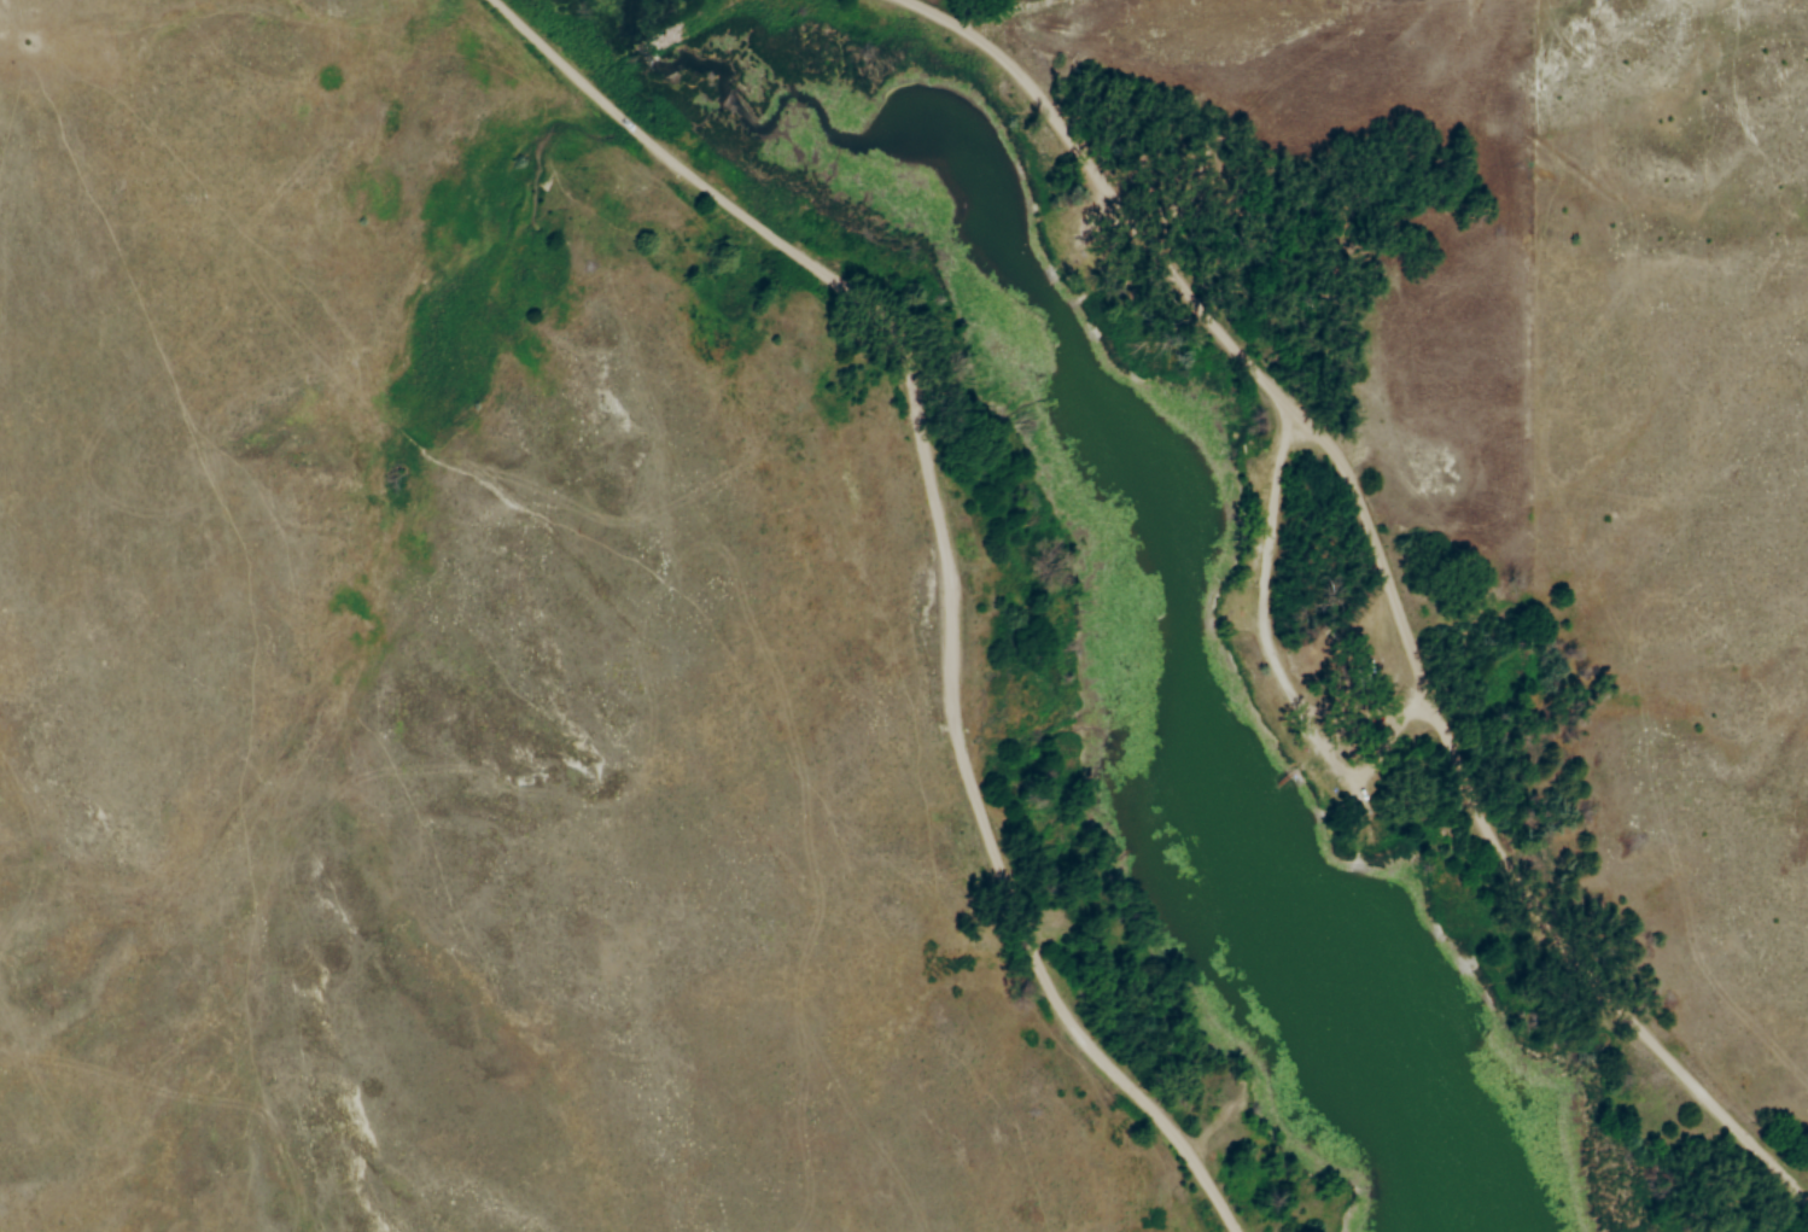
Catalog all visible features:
road: (952, 559)
park: (1212, 568)
road: (1394, 577)

